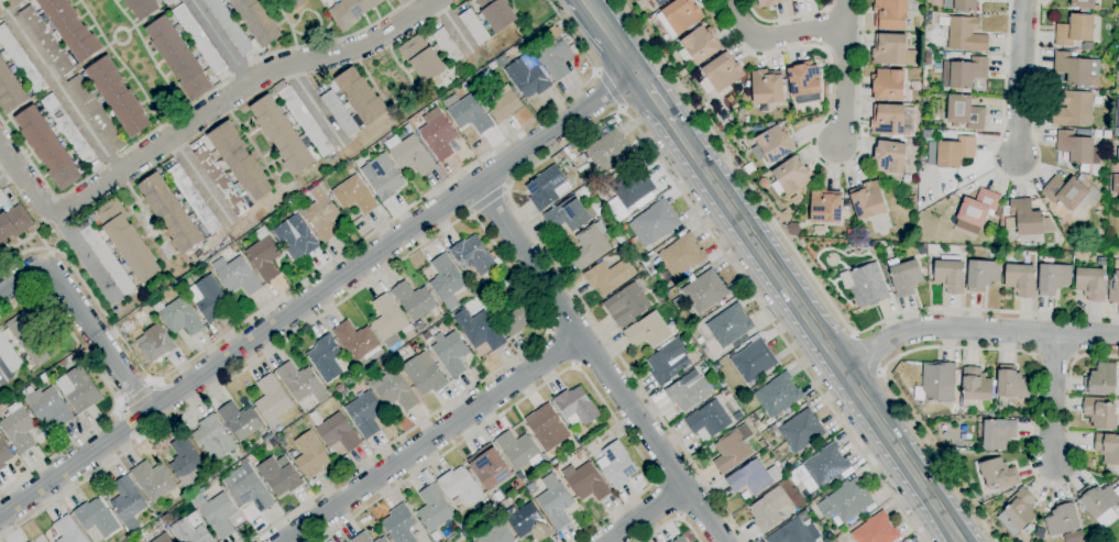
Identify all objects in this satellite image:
road: (0, 0)
building: (791, 0)
building: (168, 1)
building: (323, 1)
building: (659, 2)
building: (769, 2)
road: (405, 3)
building: (1083, 3)
building: (965, 4)
road: (409, 7)
building: (142, 8)
building: (350, 12)
road: (846, 12)
building: (496, 13)
building: (893, 13)
building: (679, 16)
building: (928, 16)
road: (786, 19)
building: (257, 20)
building: (649, 20)
building: (229, 25)
building: (473, 26)
building: (70, 27)
road: (456, 30)
building: (1075, 30)
building: (964, 33)
road: (611, 35)
road: (776, 36)
building: (199, 38)
building: (46, 41)
road: (219, 42)
road: (327, 42)
building: (447, 45)
building: (699, 45)
building: (889, 49)
building: (555, 55)
building: (928, 57)
building: (178, 58)
building: (423, 58)
building: (21, 60)
building: (493, 66)
building: (1077, 69)
road: (240, 70)
building: (723, 71)
building: (682, 73)
building: (964, 74)
building: (527, 76)
building: (1102, 77)
road: (1019, 79)
building: (804, 82)
road: (844, 85)
building: (888, 85)
building: (915, 86)
building: (767, 87)
road: (608, 88)
building: (10, 90)
road: (239, 90)
road: (62, 92)
building: (118, 96)
building: (361, 96)
road: (654, 96)
building: (504, 103)
building: (1117, 103)
road: (318, 108)
building: (1074, 109)
building: (965, 111)
building: (97, 113)
building: (339, 113)
building: (470, 114)
road: (175, 117)
road: (605, 117)
building: (304, 119)
building: (888, 120)
building: (412, 121)
building: (1116, 121)
building: (720, 128)
building: (68, 129)
building: (408, 129)
road: (814, 132)
building: (1116, 132)
building: (438, 134)
building: (282, 135)
building: (771, 142)
building: (1077, 146)
building: (47, 147)
building: (608, 152)
building: (955, 152)
building: (410, 154)
building: (1118, 155)
building: (890, 157)
building: (240, 162)
road: (109, 163)
building: (1084, 168)
road: (7, 170)
building: (752, 170)
building: (383, 177)
building: (791, 177)
building: (907, 177)
road: (204, 178)
road: (42, 179)
road: (1016, 179)
building: (221, 180)
road: (25, 181)
building: (763, 182)
building: (633, 186)
building: (547, 188)
building: (1072, 192)
building: (354, 196)
building: (2, 198)
building: (911, 198)
building: (194, 199)
road: (487, 200)
building: (796, 200)
building: (868, 200)
building: (825, 206)
building: (978, 211)
building: (602, 212)
building: (171, 213)
building: (321, 213)
building: (569, 214)
building: (787, 215)
building: (1027, 219)
building: (655, 222)
building: (13, 223)
road: (441, 231)
building: (295, 237)
road: (24, 240)
building: (128, 241)
building: (590, 245)
road: (47, 248)
building: (105, 255)
building: (264, 255)
road: (87, 256)
building: (473, 256)
building: (682, 256)
building: (458, 266)
road: (320, 268)
building: (505, 268)
building: (237, 275)
building: (661, 275)
building: (981, 275)
building: (950, 276)
road: (20, 277)
building: (607, 277)
road: (812, 278)
building: (906, 278)
building: (1053, 278)
building: (1020, 279)
building: (447, 281)
building: (506, 283)
building: (1090, 284)
building: (867, 286)
building: (1113, 289)
building: (513, 290)
building: (705, 291)
road: (319, 294)
building: (659, 296)
building: (209, 298)
building: (414, 300)
building: (678, 303)
building: (626, 305)
building: (145, 310)
building: (179, 317)
building: (388, 320)
building: (516, 320)
building: (729, 325)
building: (480, 330)
road: (975, 330)
building: (648, 331)
road: (816, 331)
building: (409, 334)
building: (427, 335)
building: (31, 338)
road: (97, 340)
building: (356, 341)
building: (156, 343)
road: (561, 347)
building: (451, 352)
road: (868, 353)
road: (1019, 353)
building: (701, 354)
building: (9, 355)
building: (326, 357)
building: (667, 361)
building: (753, 361)
road: (599, 363)
building: (62, 364)
building: (425, 374)
building: (44, 377)
road: (2, 378)
building: (1100, 380)
road: (153, 381)
building: (301, 383)
building: (936, 383)
road: (544, 384)
building: (1010, 385)
building: (975, 388)
building: (79, 389)
road: (109, 390)
building: (396, 391)
building: (688, 391)
building: (726, 394)
road: (138, 395)
building: (778, 395)
building: (272, 399)
road: (1051, 400)
building: (47, 406)
road: (120, 406)
building: (577, 407)
building: (996, 409)
building: (1099, 412)
building: (365, 413)
building: (709, 419)
road: (130, 420)
building: (240, 421)
building: (545, 427)
building: (18, 428)
building: (771, 429)
building: (801, 431)
building: (339, 432)
building: (997, 433)
road: (140, 435)
building: (603, 438)
building: (212, 439)
road: (434, 440)
building: (763, 443)
building: (1107, 447)
building: (733, 449)
building: (519, 450)
building: (4, 453)
building: (311, 455)
building: (185, 460)
building: (244, 462)
building: (615, 465)
building: (822, 468)
building: (490, 469)
building: (998, 474)
building: (279, 476)
building: (753, 477)
building: (153, 480)
building: (586, 482)
building: (461, 486)
building: (251, 493)
road: (667, 499)
building: (555, 501)
building: (846, 501)
building: (128, 502)
building: (1100, 502)
building: (485, 504)
building: (435, 508)
building: (768, 509)
building: (1018, 511)
road: (645, 513)
building: (219, 515)
building: (153, 516)
building: (97, 518)
building: (1061, 519)
road: (671, 520)
building: (527, 521)
building: (157, 523)
building: (399, 524)
building: (876, 530)
building: (69, 531)
building: (796, 531)
building: (190, 532)
building: (497, 534)
building: (163, 538)
building: (361, 538)
building: (382, 540)
building: (681, 540)
building: (826, 540)
building: (128, 541)
building: (473, 541)
building: (670, 541)

